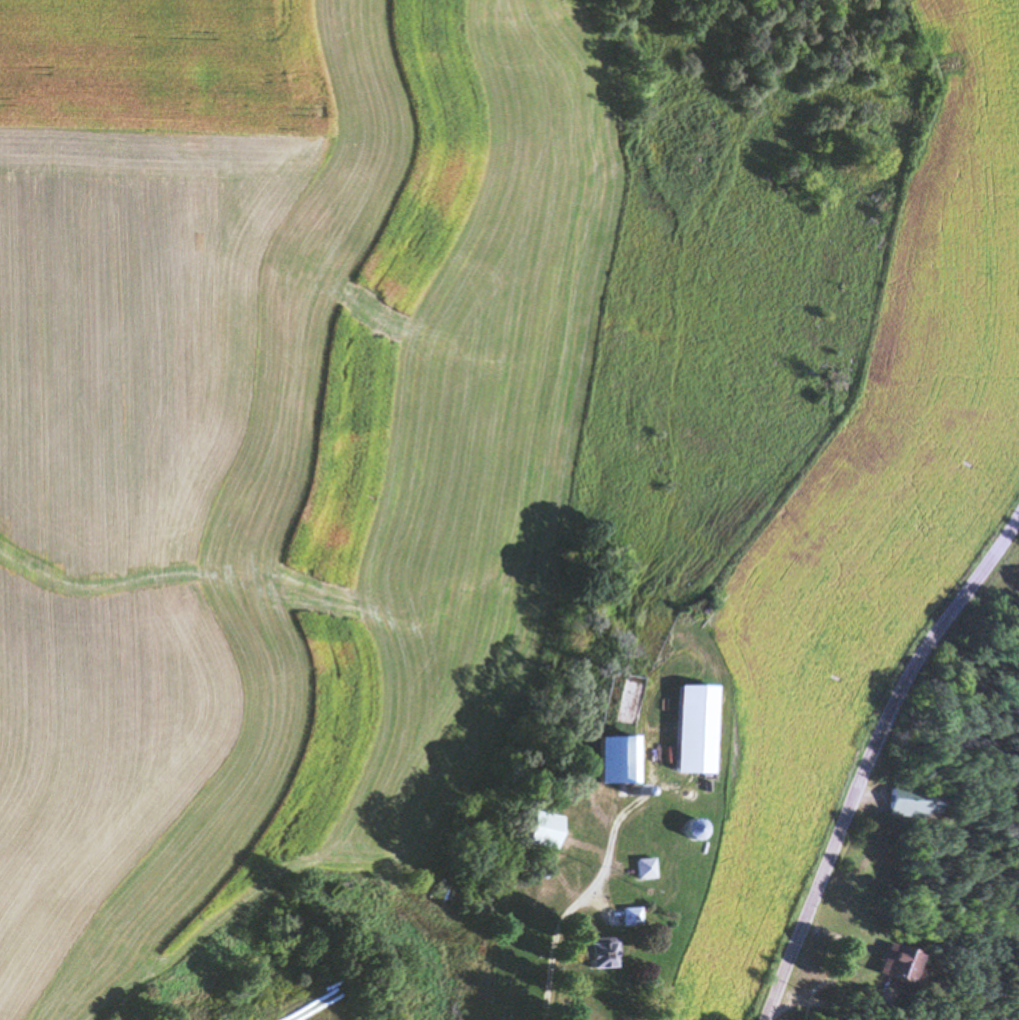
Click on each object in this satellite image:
road: (695, 662)
building: (692, 730)
road: (869, 757)
building: (616, 762)
building: (908, 805)
building: (540, 830)
building: (695, 832)
road: (608, 851)
building: (645, 870)
building: (633, 918)
building: (599, 953)
building: (891, 964)
road: (841, 971)

